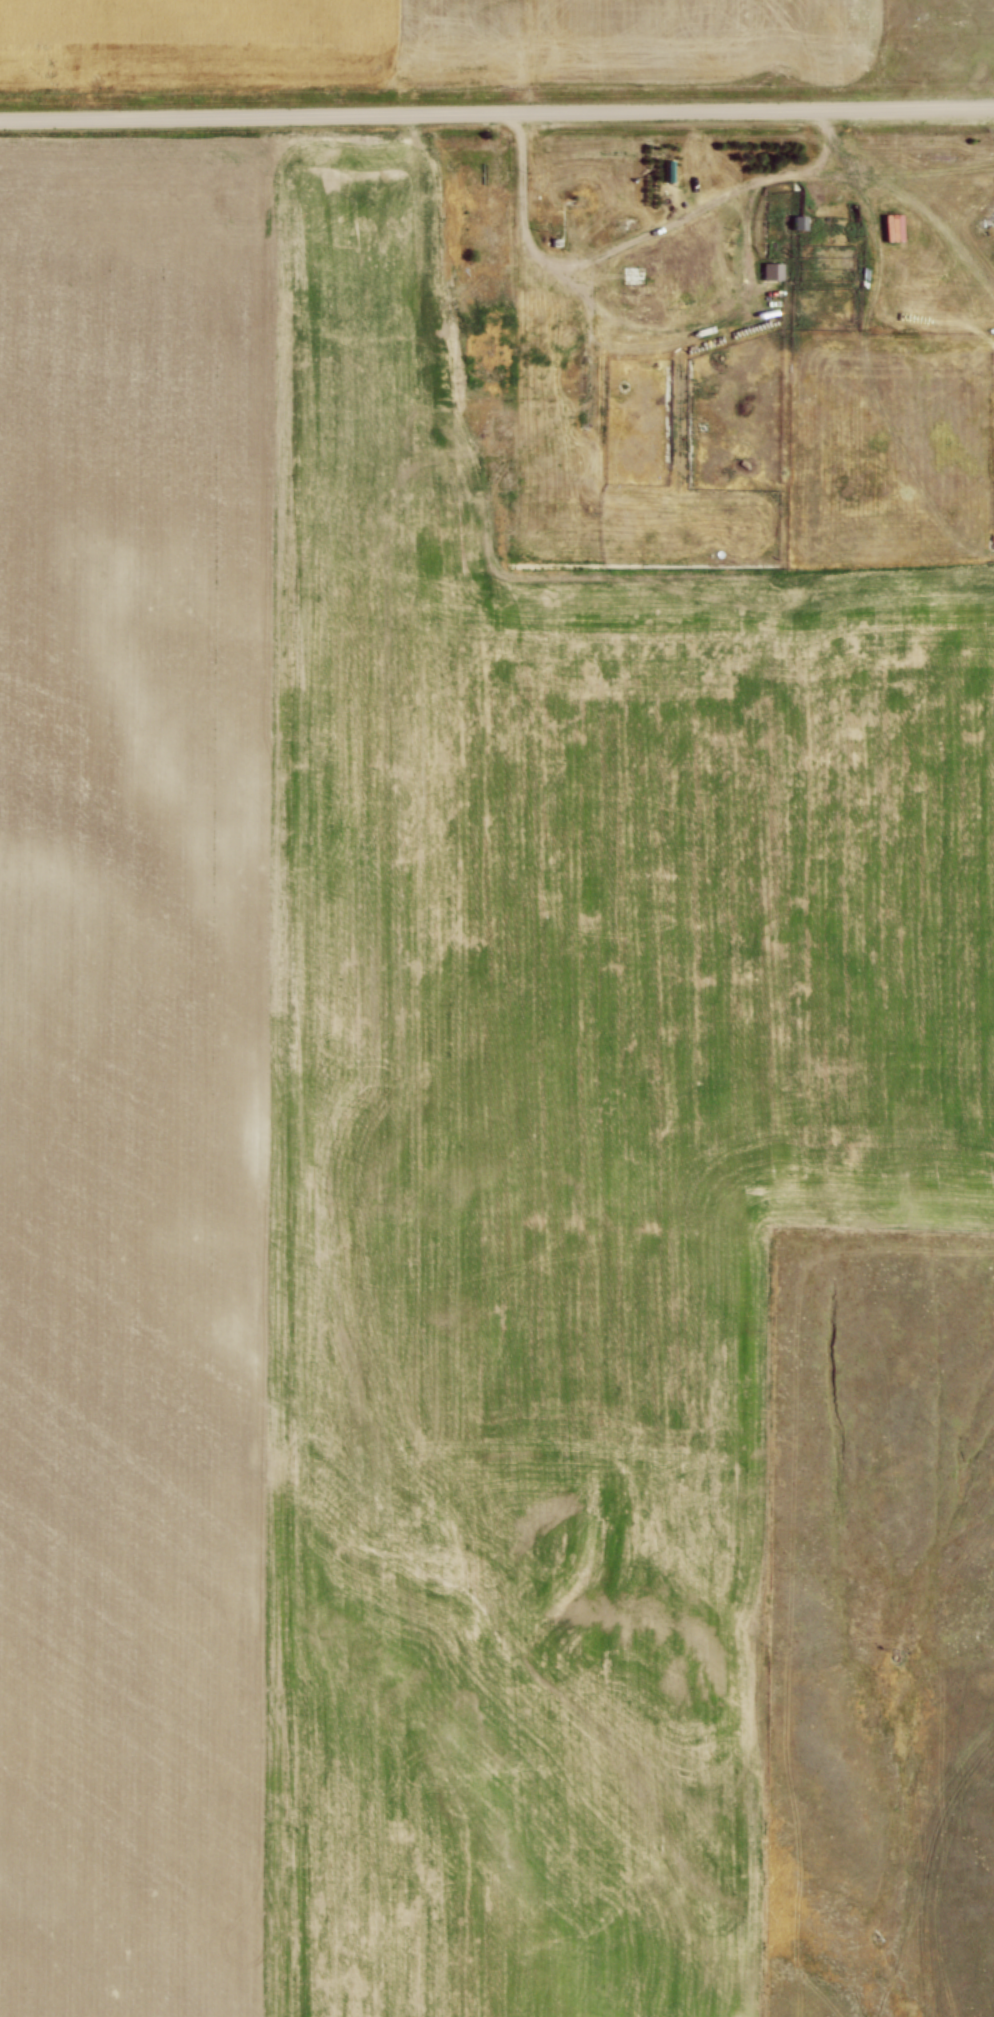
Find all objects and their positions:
crop: (434, 44)
road: (496, 111)
building: (564, 193)
building: (800, 223)
road: (636, 241)
building: (773, 271)
building: (635, 275)
crop: (413, 1132)

